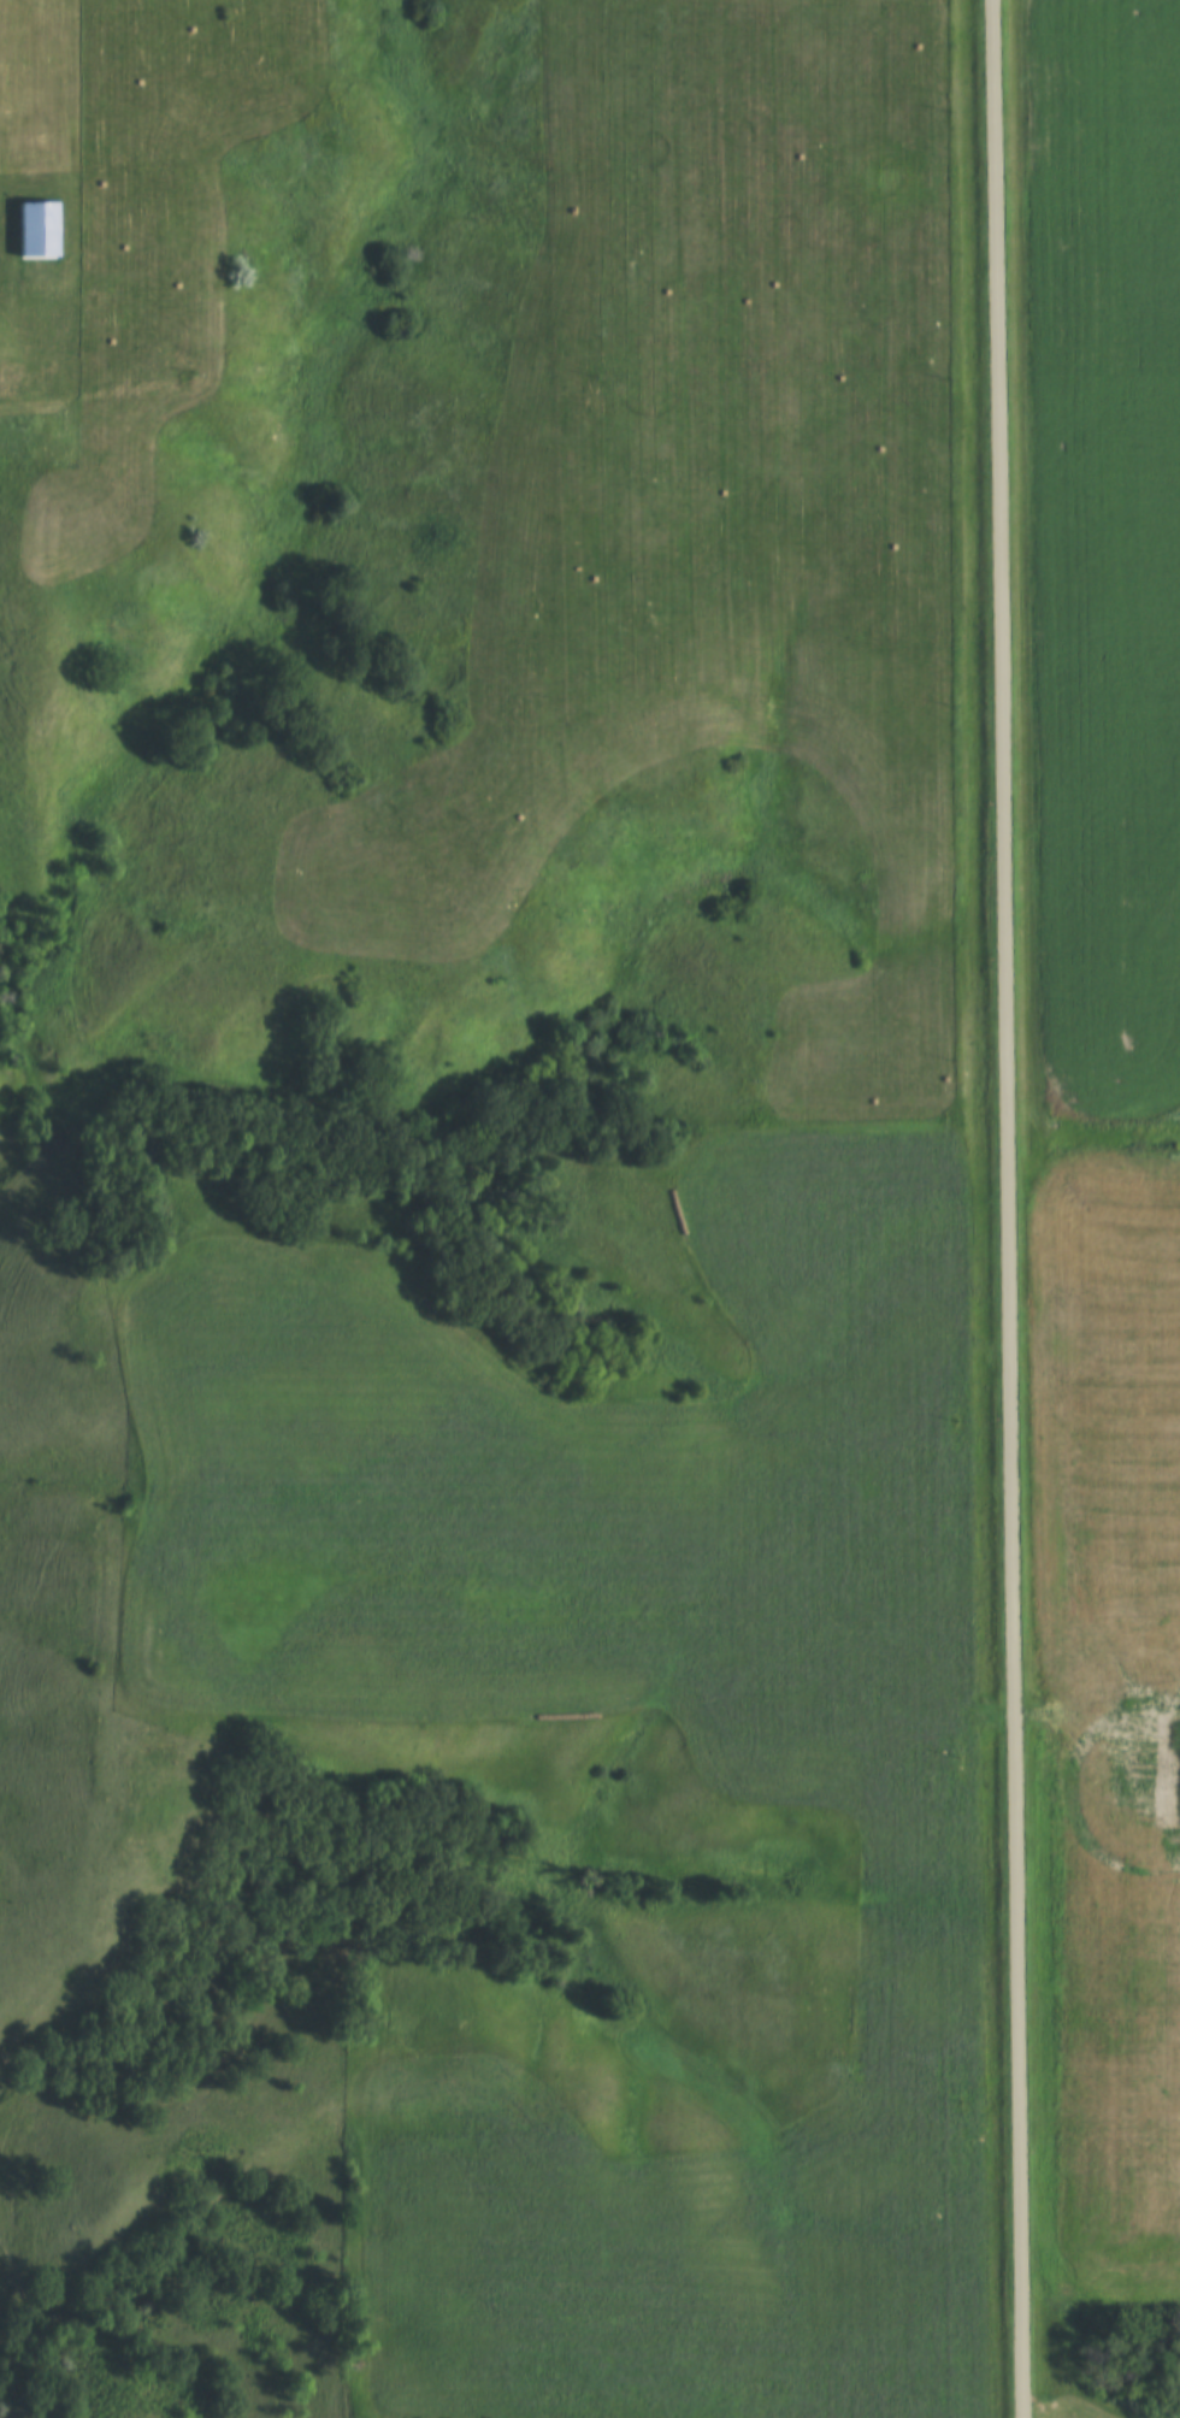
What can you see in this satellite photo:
building: (39, 228)
road: (1009, 1208)

